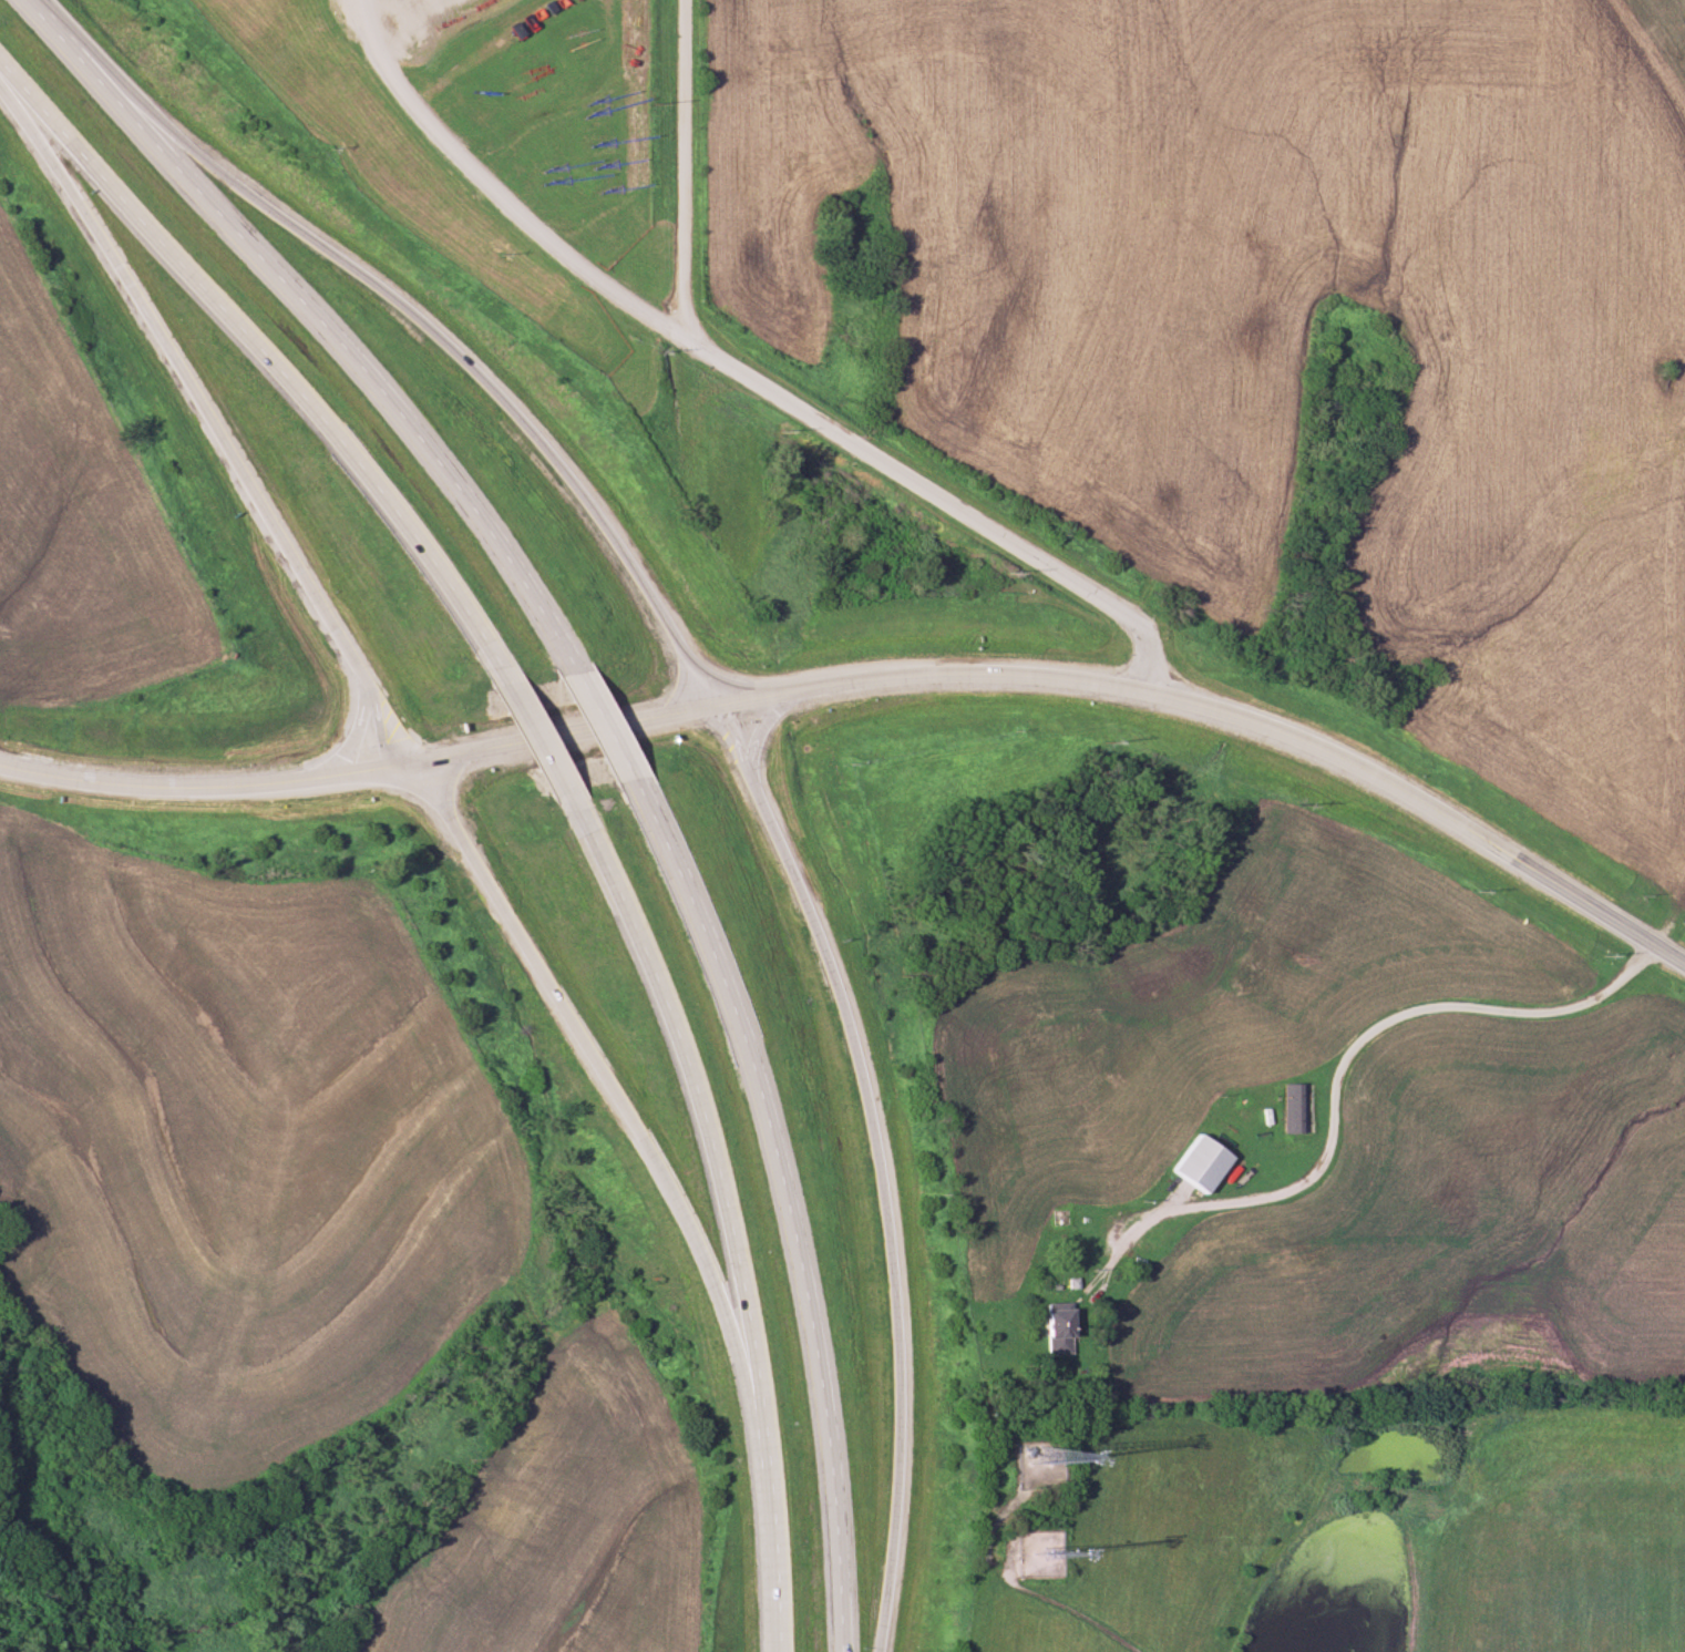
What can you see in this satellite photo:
road: (685, 171)
road: (318, 321)
road: (458, 350)
road: (268, 357)
road: (736, 369)
road: (214, 411)
road: (1230, 711)
road: (605, 724)
road: (565, 732)
road: (541, 743)
road: (206, 780)
road: (592, 1074)
road: (1335, 1076)
road: (687, 1094)
building: (1291, 1108)
building: (1195, 1163)
road: (884, 1164)
road: (788, 1209)
building: (1057, 1218)
building: (1054, 1328)
road: (779, 1520)
road: (1017, 1591)

